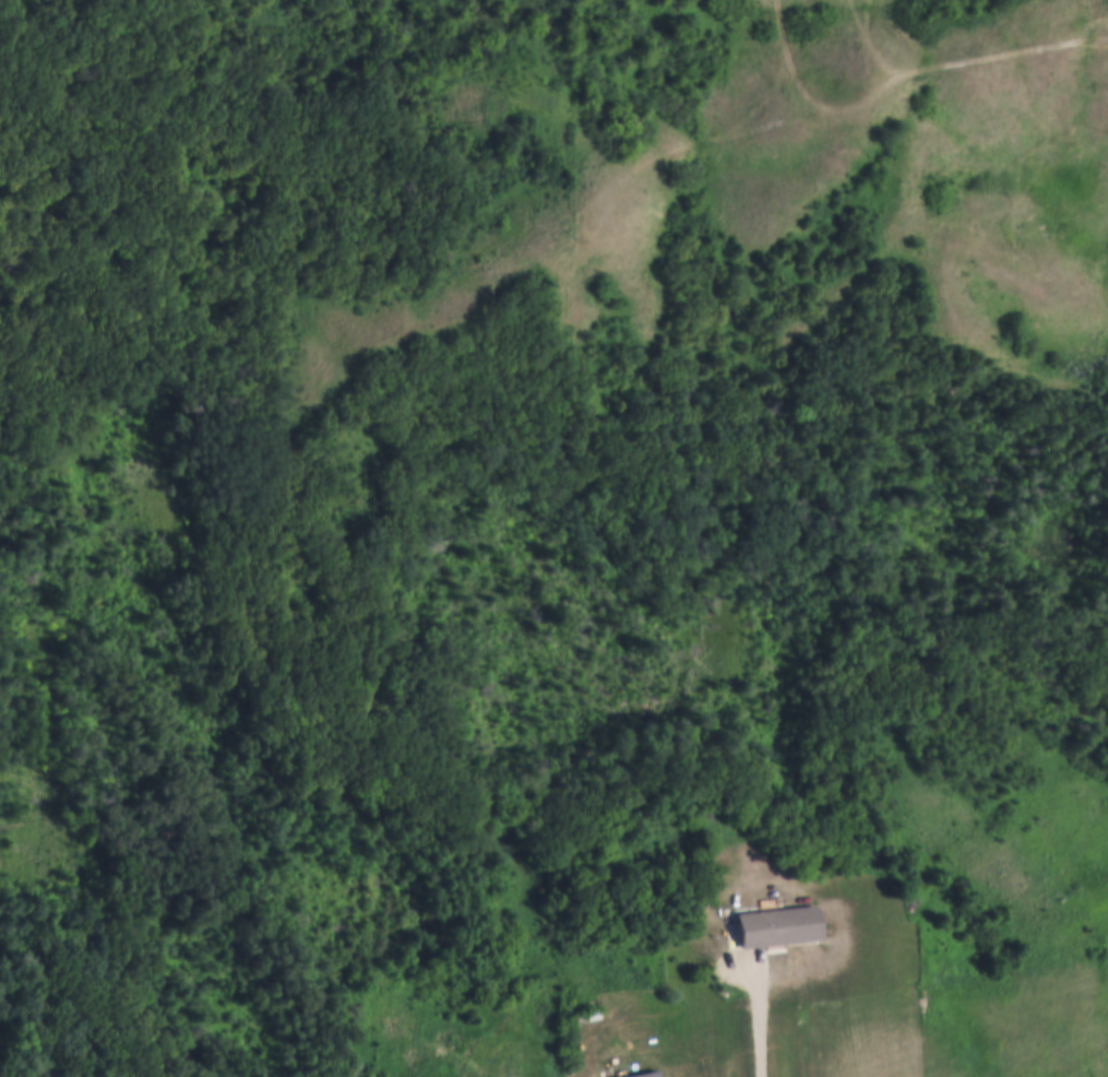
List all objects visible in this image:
building: (776, 924)
building: (591, 1010)
building: (577, 1015)
building: (638, 1074)

